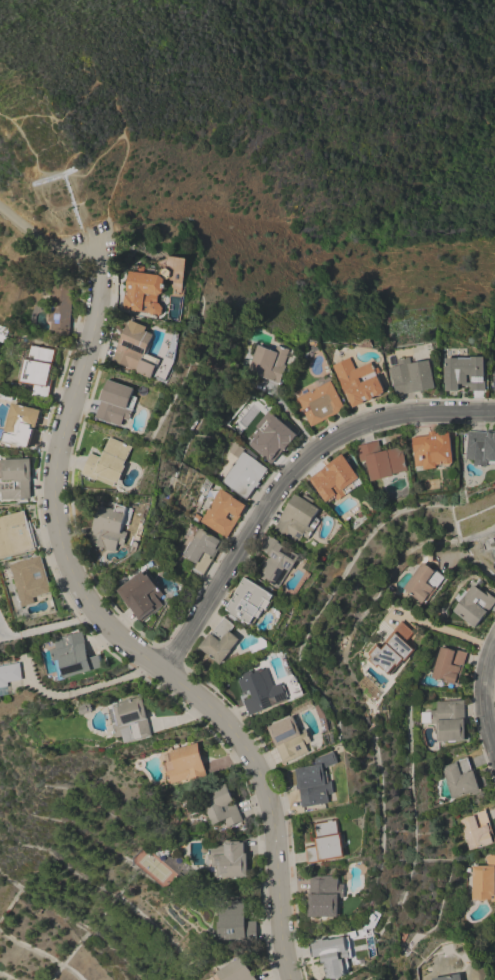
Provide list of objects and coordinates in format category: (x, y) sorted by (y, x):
road: (76, 98)
road: (24, 139)
road: (125, 142)
road: (47, 236)
parking lot: (84, 243)
building: (147, 291)
building: (62, 308)
building: (137, 352)
building: (269, 362)
building: (40, 368)
building: (466, 373)
building: (413, 376)
building: (359, 381)
building: (494, 384)
building: (9, 397)
building: (320, 402)
building: (117, 403)
road: (287, 411)
building: (25, 424)
building: (272, 439)
building: (481, 447)
building: (434, 450)
building: (383, 461)
building: (109, 463)
building: (245, 475)
road: (286, 479)
building: (336, 479)
building: (17, 480)
building: (207, 485)
building: (223, 513)
building: (299, 519)
building: (110, 527)
building: (16, 535)
building: (494, 548)
building: (202, 551)
road: (471, 561)
building: (278, 562)
building: (30, 580)
building: (424, 582)
building: (141, 596)
building: (249, 600)
building: (473, 605)
road: (47, 627)
road: (445, 630)
road: (120, 635)
building: (221, 641)
building: (393, 649)
building: (72, 656)
building: (449, 666)
building: (8, 676)
building: (261, 692)
road: (482, 696)
building: (84, 709)
building: (131, 720)
building: (447, 721)
building: (289, 739)
building: (184, 764)
building: (461, 778)
building: (316, 781)
building: (222, 806)
building: (477, 830)
building: (326, 842)
building: (230, 859)
building: (484, 880)
building: (325, 896)
building: (235, 925)
building: (494, 931)
building: (333, 956)
building: (237, 971)
building: (450, 977)

